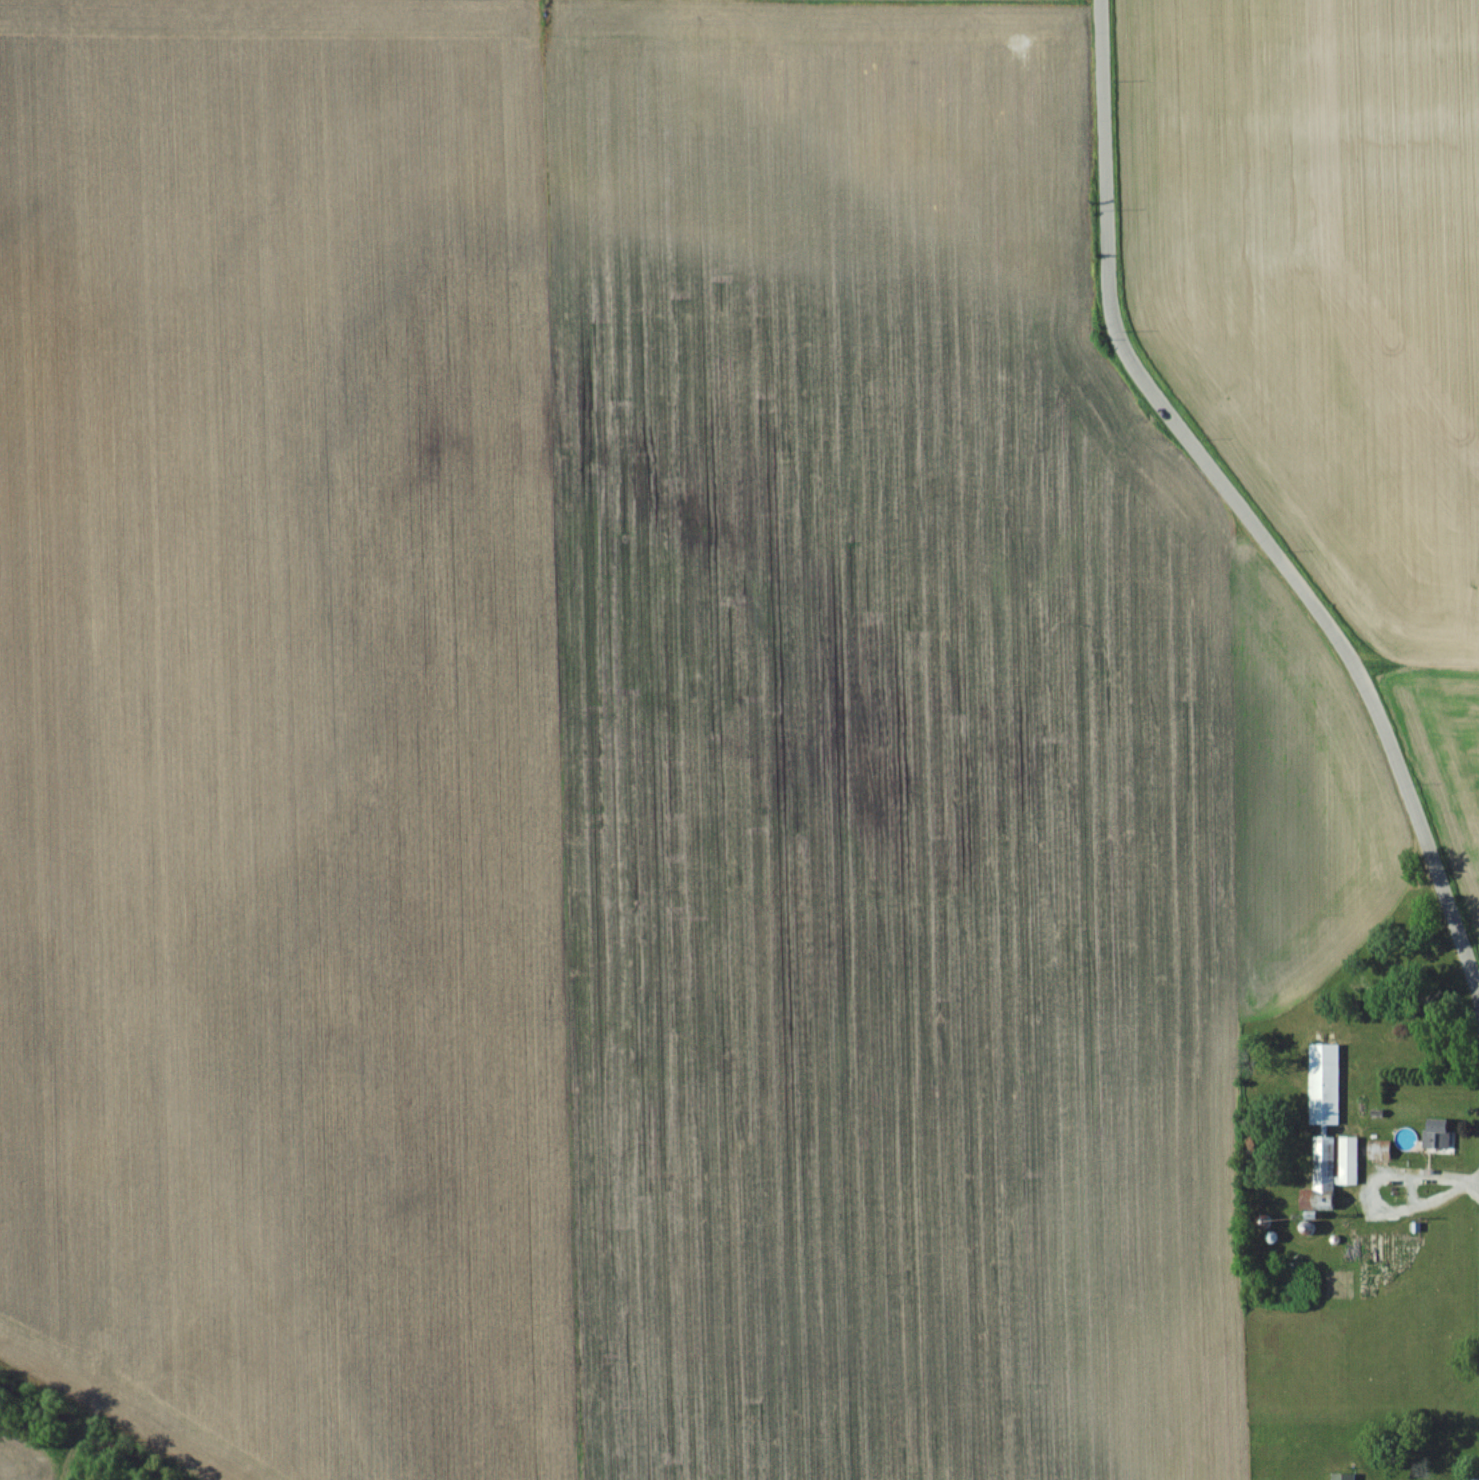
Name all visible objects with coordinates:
road: (1237, 503)
building: (1323, 1083)
building: (1436, 1132)
building: (1378, 1149)
building: (1332, 1167)
building: (1342, 1476)

